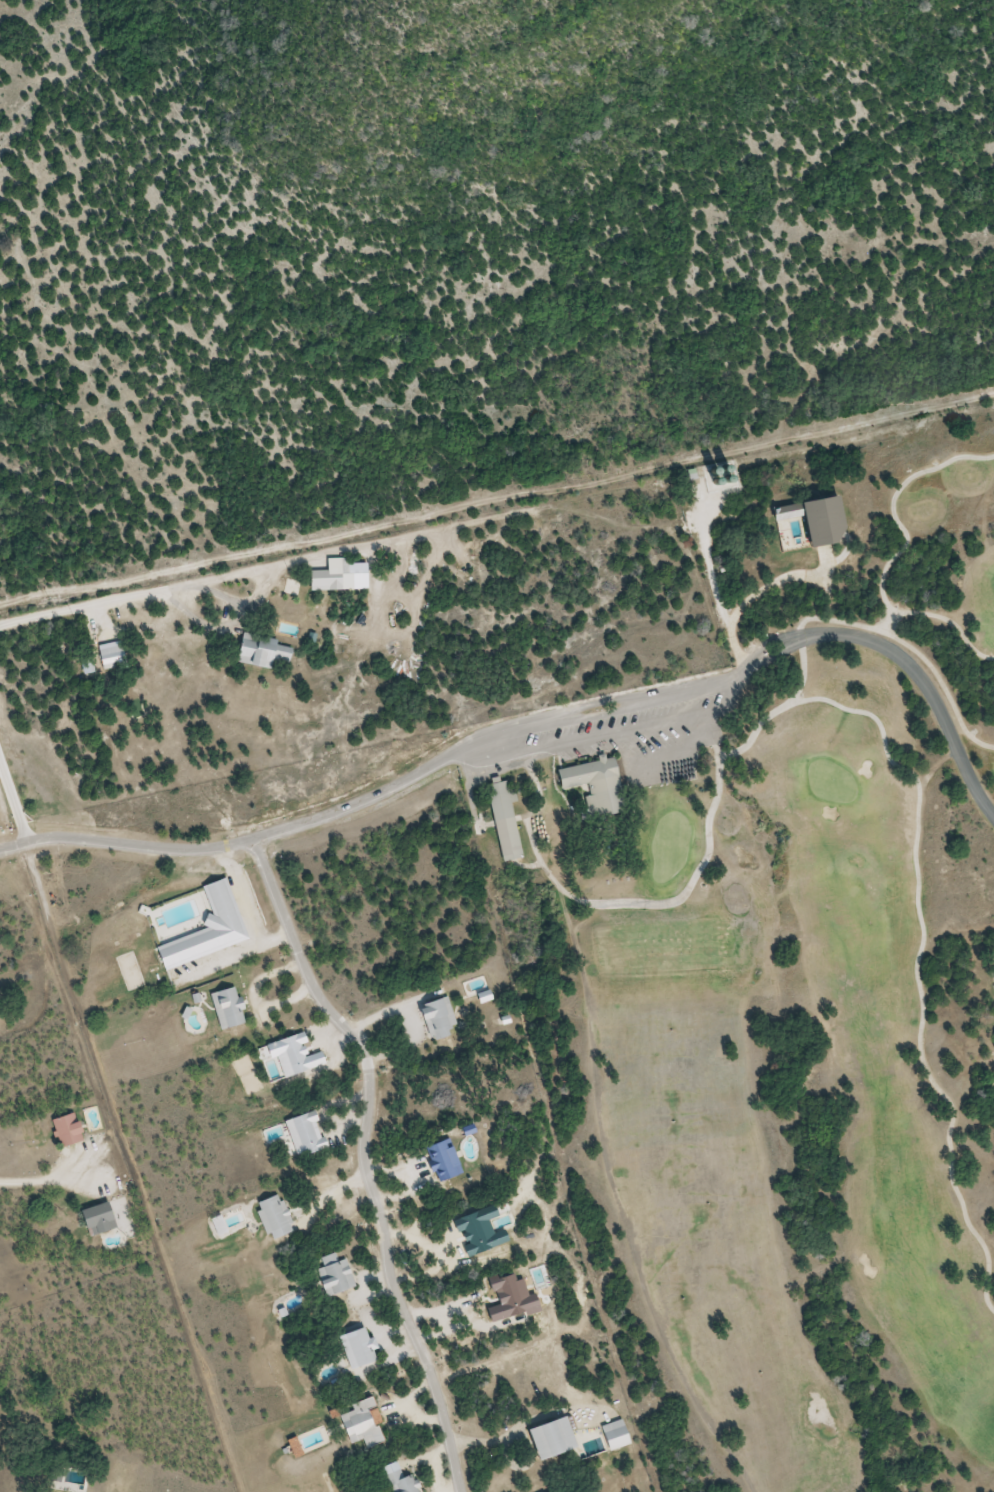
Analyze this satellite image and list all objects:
road: (497, 500)
road: (893, 507)
road: (120, 599)
road: (943, 617)
road: (805, 620)
road: (860, 639)
building: (260, 652)
building: (110, 657)
road: (944, 686)
road: (553, 712)
road: (556, 723)
parking lot: (622, 732)
road: (606, 735)
road: (884, 736)
road: (719, 750)
building: (595, 784)
road: (13, 803)
road: (520, 816)
building: (502, 817)
road: (242, 843)
road: (526, 865)
building: (226, 1008)
park: (782, 1011)
building: (437, 1020)
building: (65, 1130)
road: (364, 1158)
building: (440, 1160)
building: (273, 1217)
building: (94, 1219)
building: (333, 1275)
building: (361, 1424)
building: (613, 1435)
building: (547, 1439)
building: (399, 1482)

